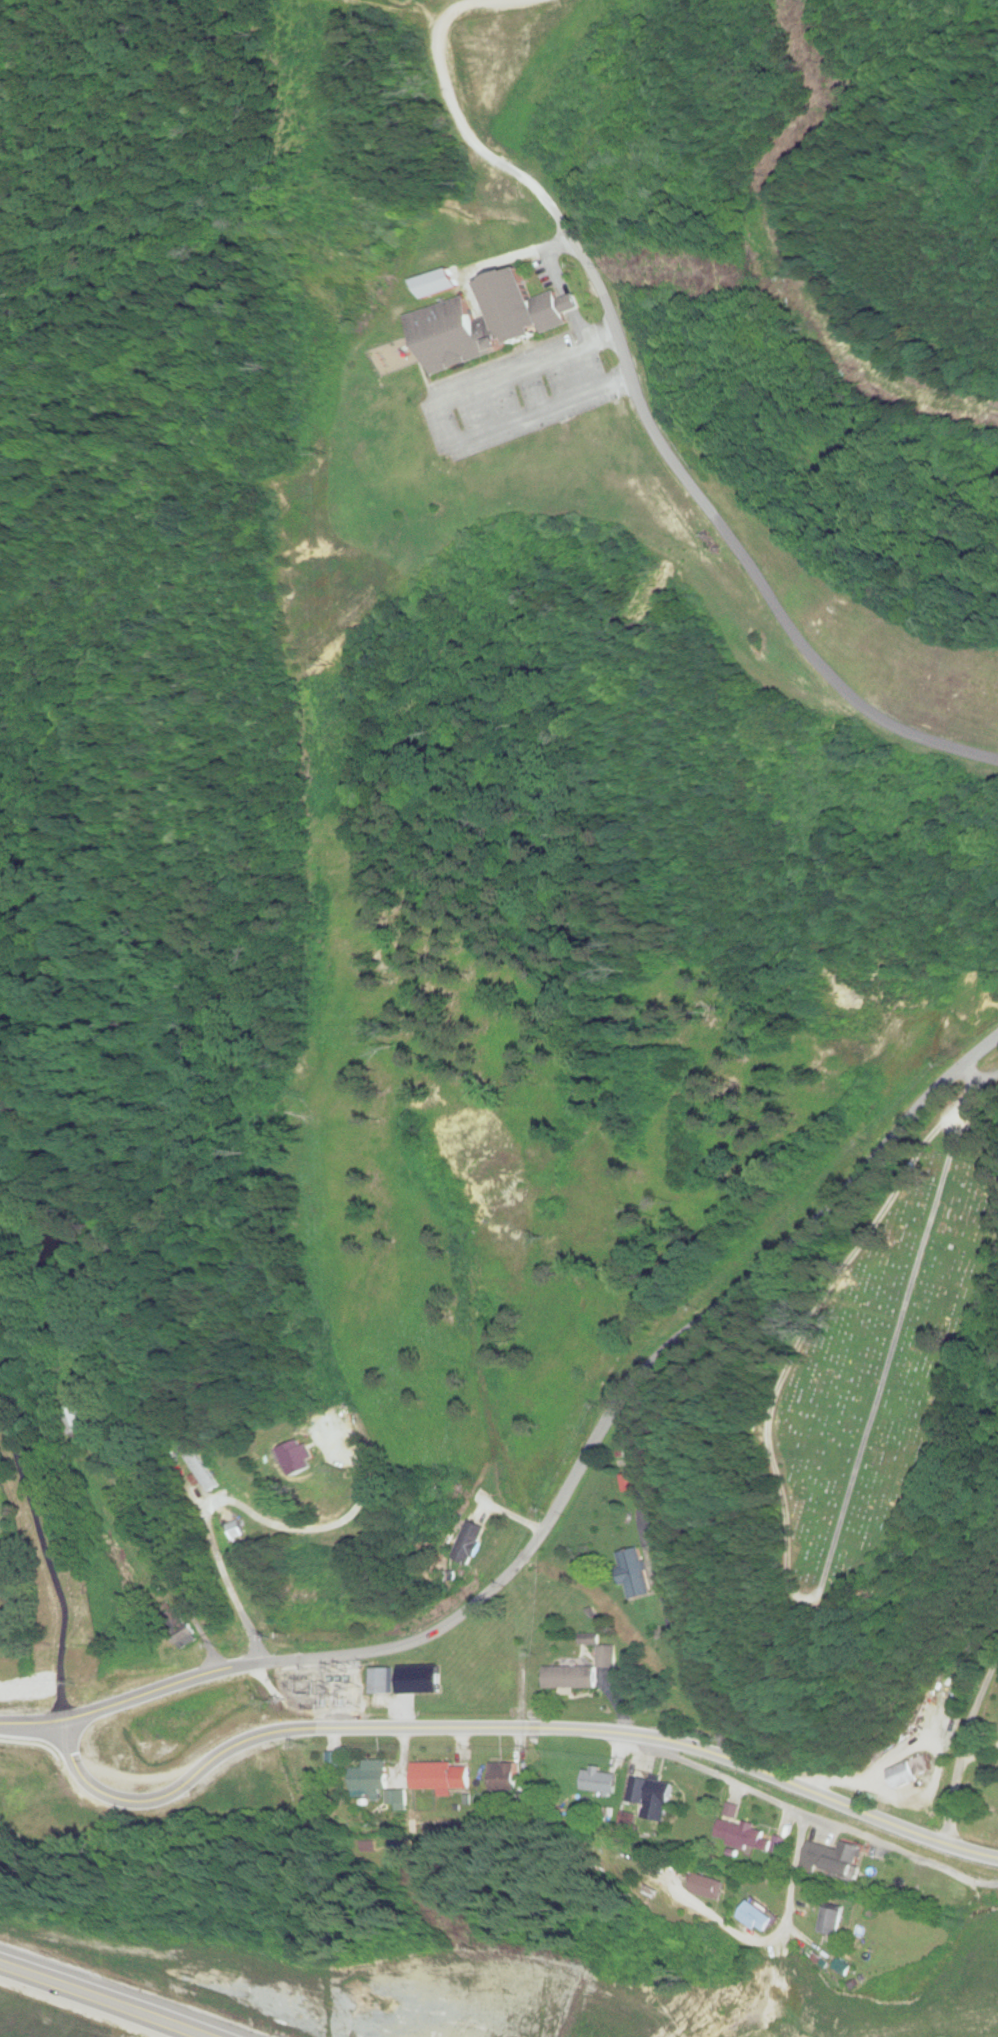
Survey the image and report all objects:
building: (485, 321)
road: (648, 414)
road: (979, 1075)
road: (979, 1090)
park: (876, 1377)
building: (75, 1419)
building: (297, 1457)
building: (199, 1472)
building: (627, 1483)
road: (563, 1499)
building: (236, 1532)
building: (468, 1542)
building: (633, 1574)
road: (673, 1574)
building: (578, 1673)
building: (351, 1694)
building: (940, 1718)
road: (507, 1725)
road: (964, 1743)
building: (908, 1772)
building: (440, 1777)
building: (504, 1777)
building: (57, 1780)
building: (368, 1780)
building: (598, 1782)
building: (648, 1799)
road: (820, 1821)
building: (746, 1835)
building: (833, 1859)
road: (796, 1873)
building: (707, 1888)
building: (934, 1890)
building: (754, 1918)
building: (828, 1925)
building: (797, 1997)
road: (101, 2000)

